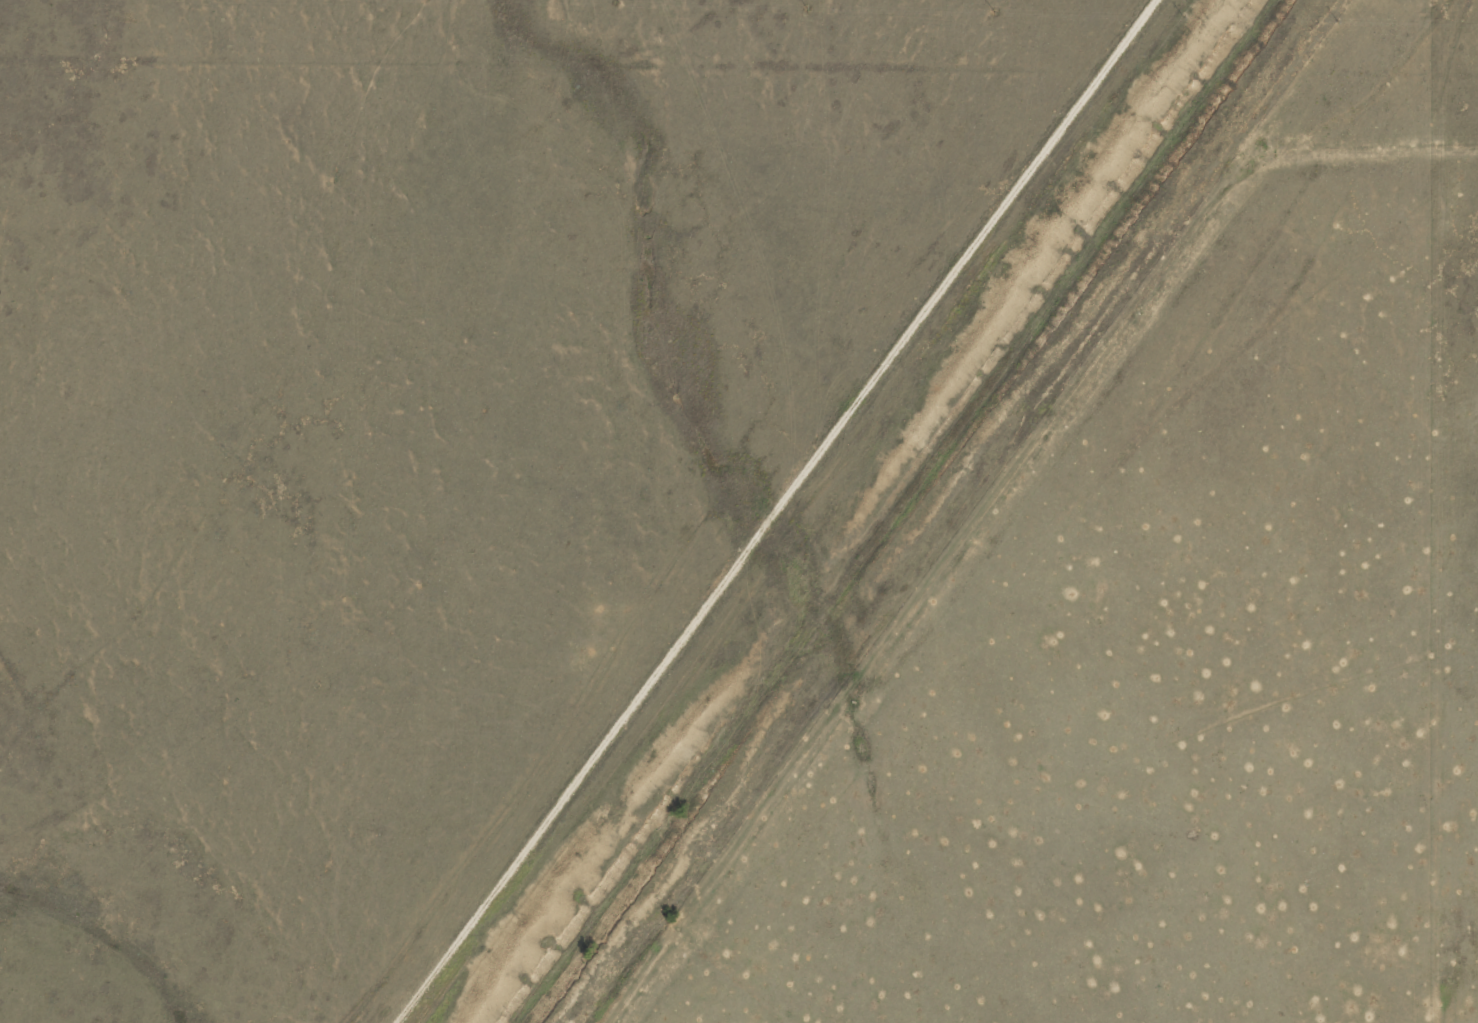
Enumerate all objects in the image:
road: (786, 511)

